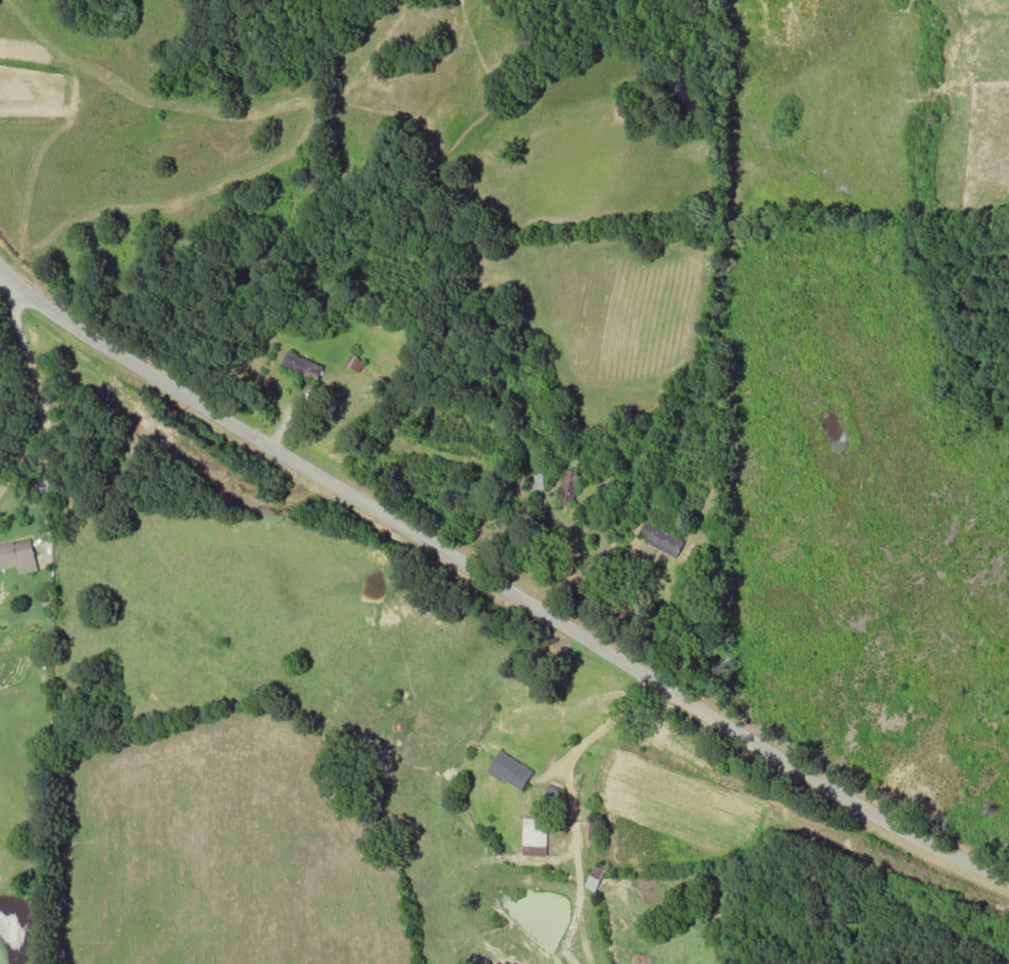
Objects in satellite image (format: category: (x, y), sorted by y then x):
building: (354, 364)
building: (303, 367)
road: (39, 392)
building: (535, 483)
building: (568, 488)
building: (719, 520)
building: (660, 539)
building: (18, 557)
road: (494, 585)
building: (510, 771)
building: (593, 831)
building: (533, 837)
building: (594, 878)

